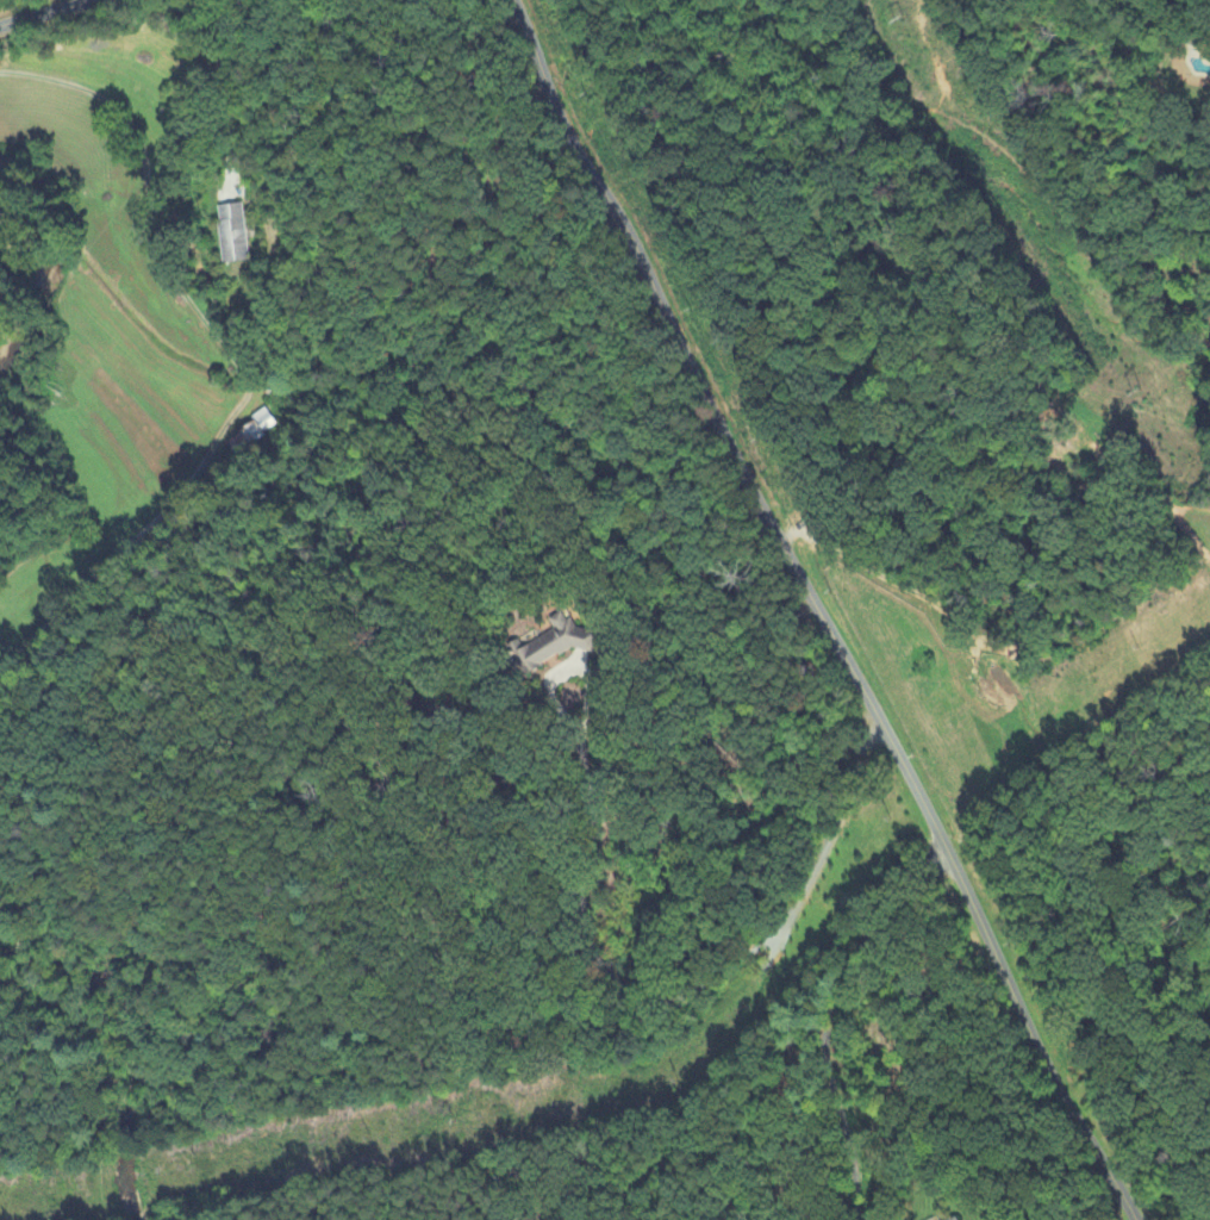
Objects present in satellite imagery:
road: (38, 12)
power tower: (903, 19)
road: (231, 357)
power tower: (1134, 391)
road: (828, 606)
road: (619, 985)
road: (830, 1014)
road: (49, 1118)

